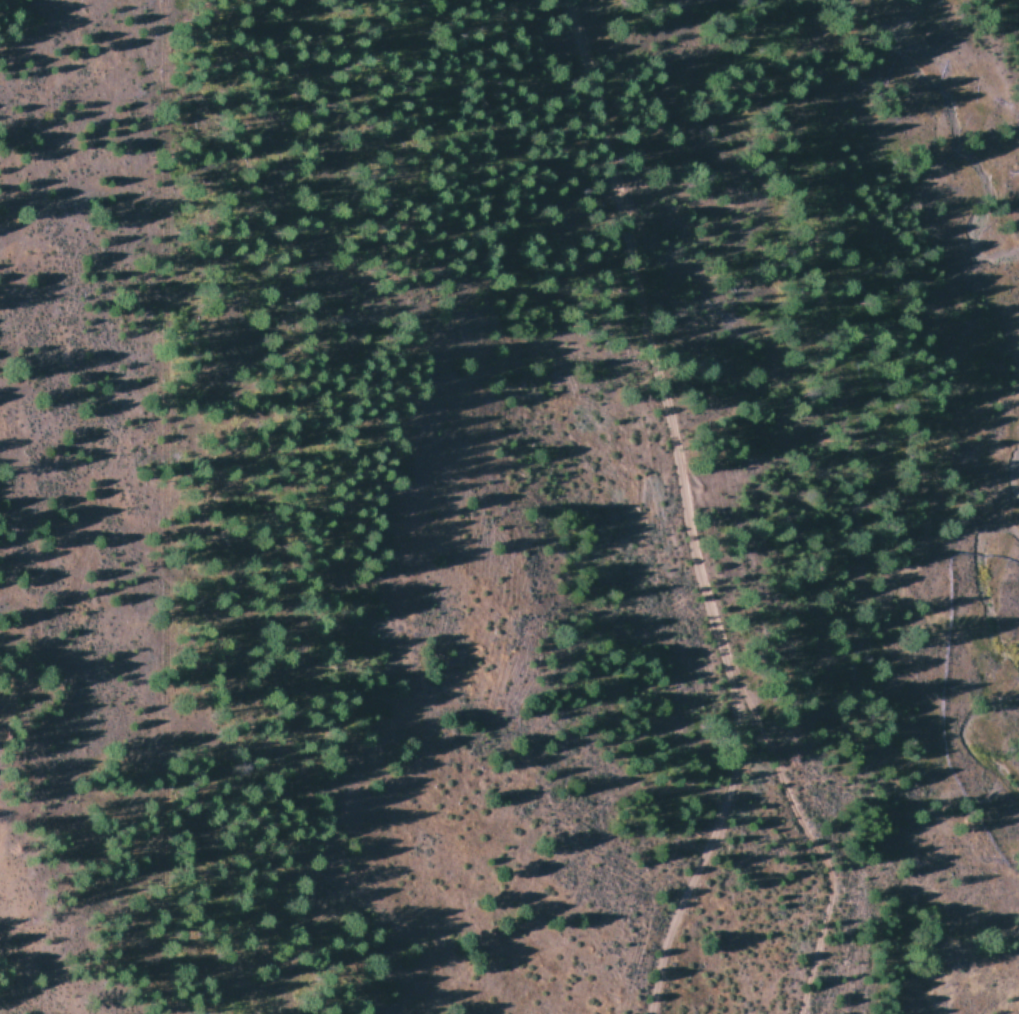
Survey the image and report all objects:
road: (714, 510)

